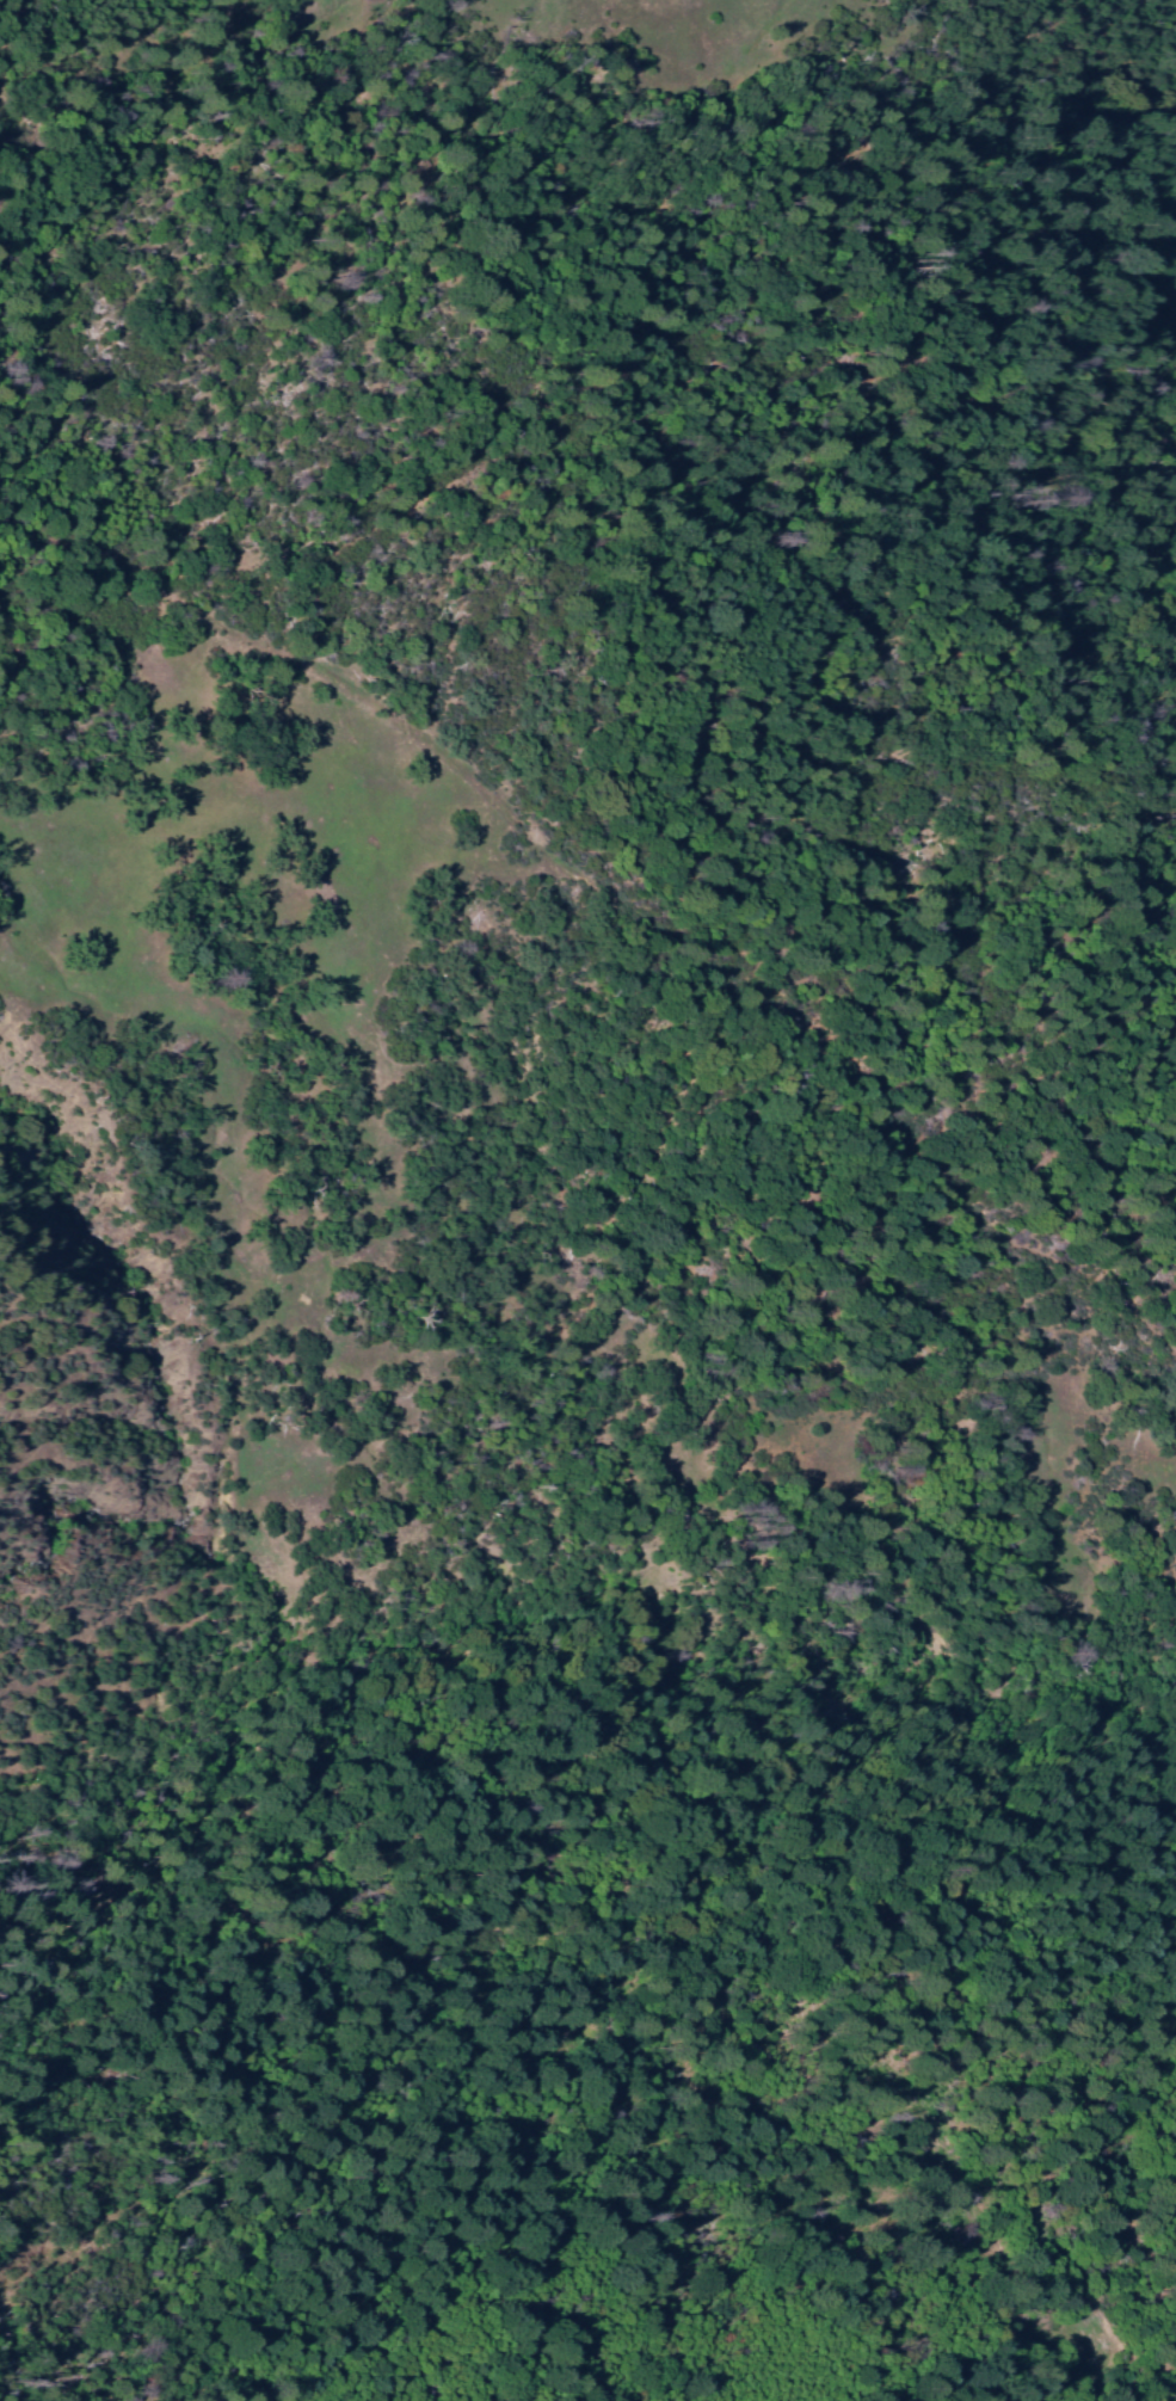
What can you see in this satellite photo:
road: (610, 893)
road: (837, 2190)

